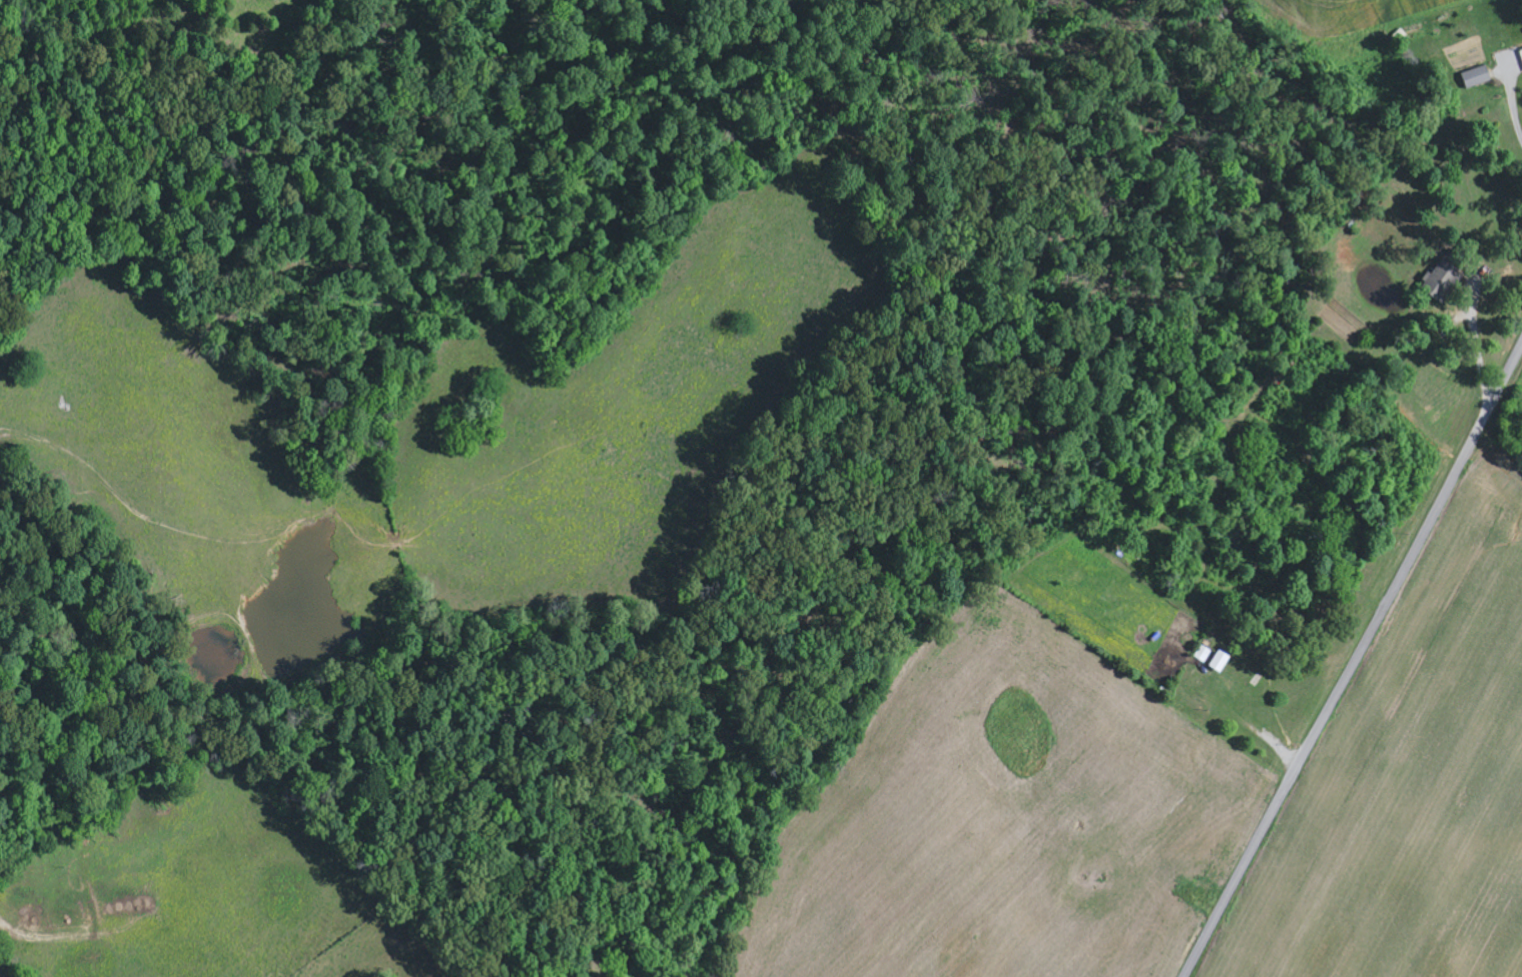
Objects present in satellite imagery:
building: (1520, 56)
building: (1473, 77)
building: (1434, 284)
building: (1224, 662)
road: (1356, 663)

